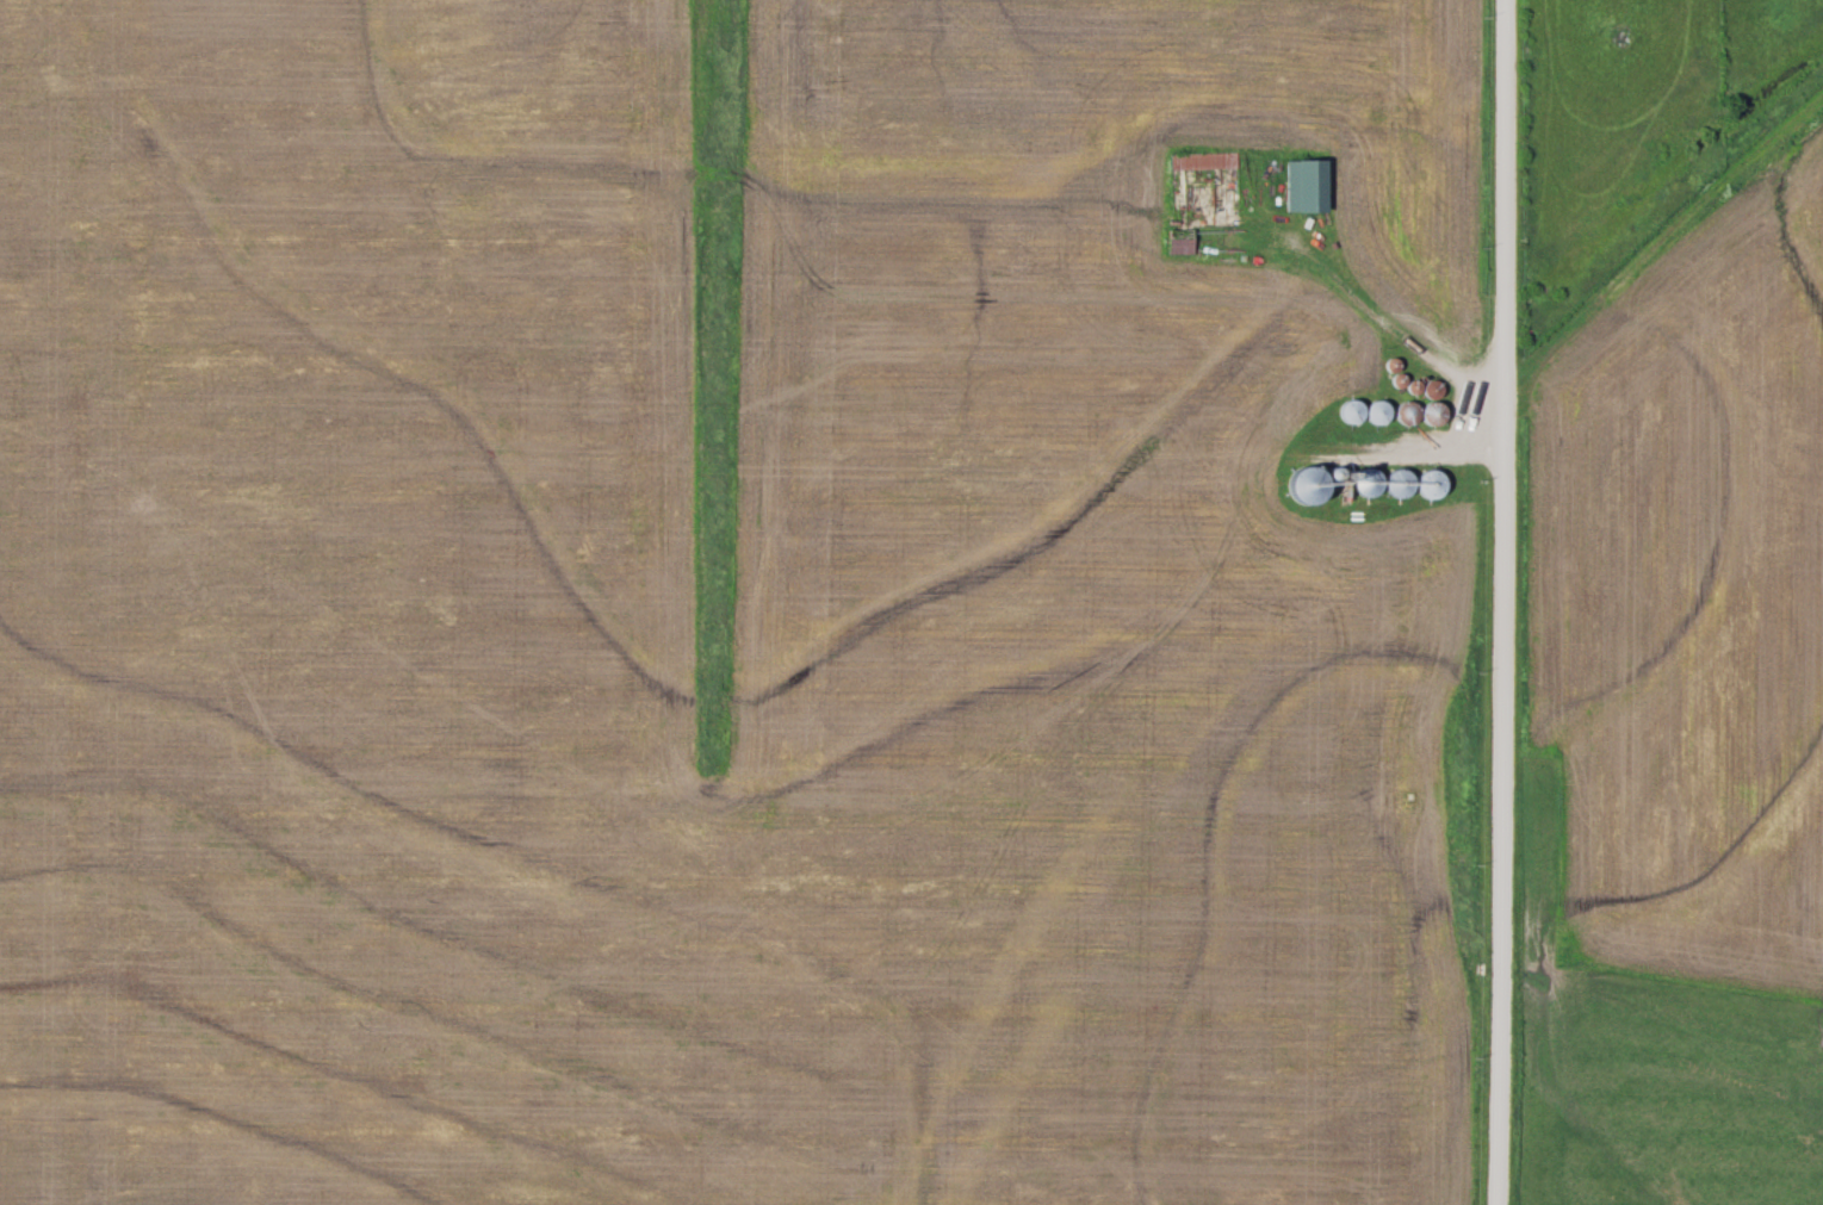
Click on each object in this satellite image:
building: (1304, 188)
building: (1408, 414)
building: (1434, 416)
building: (1432, 486)
crop: (1104, 566)
crop: (1689, 598)
road: (1503, 602)

